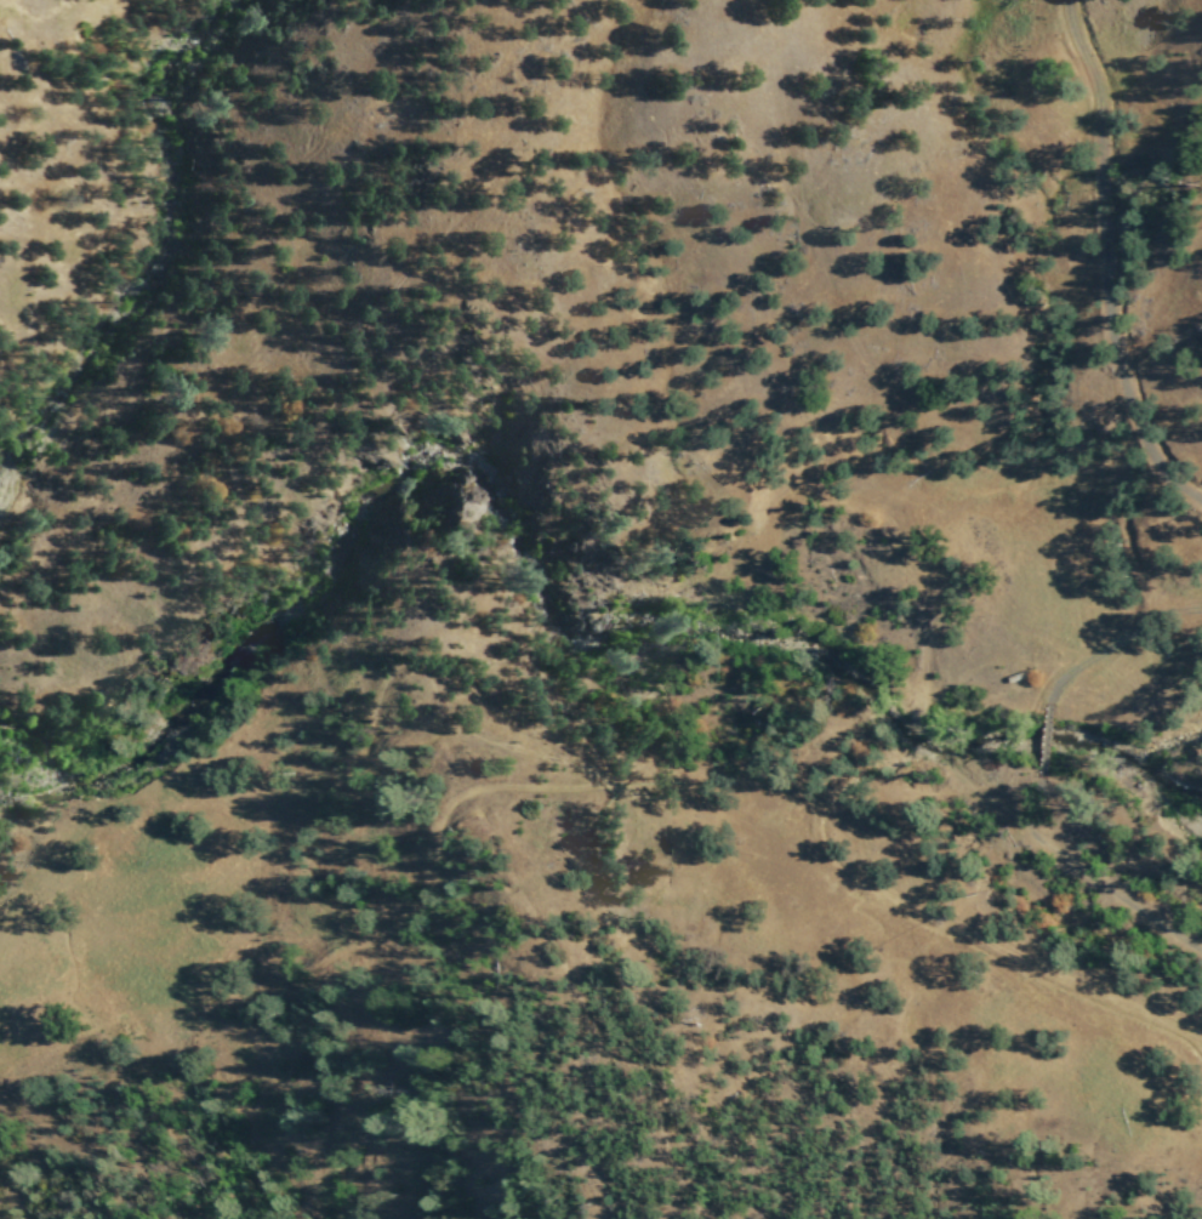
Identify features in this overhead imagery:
road: (1101, 263)
road: (1059, 682)
road: (1070, 865)

